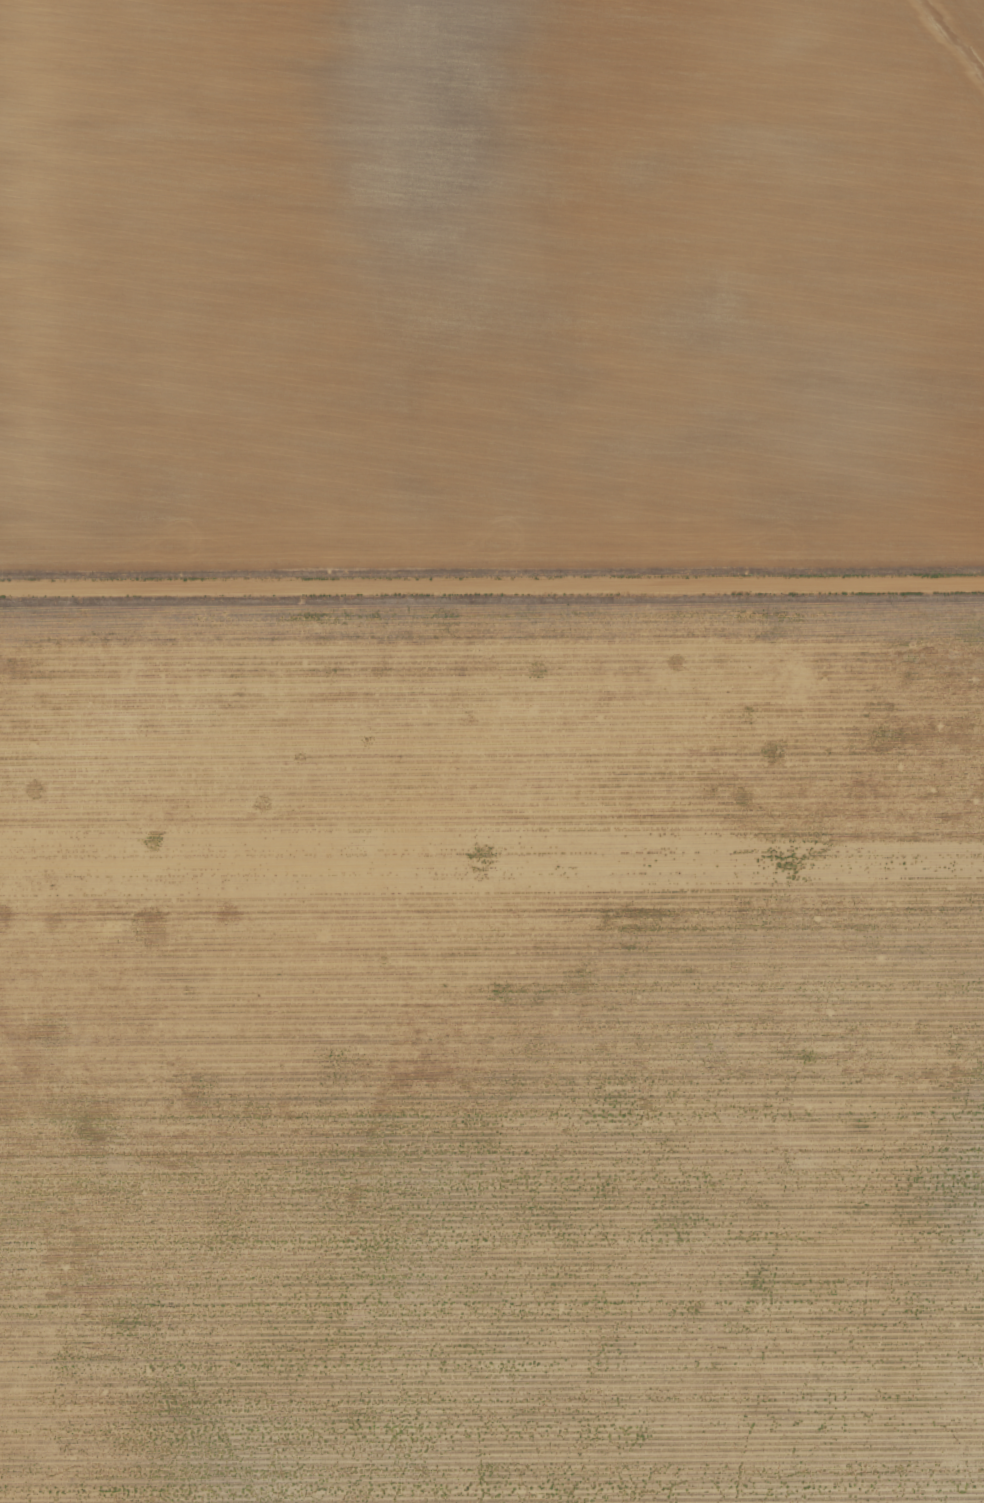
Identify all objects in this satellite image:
road: (492, 583)

